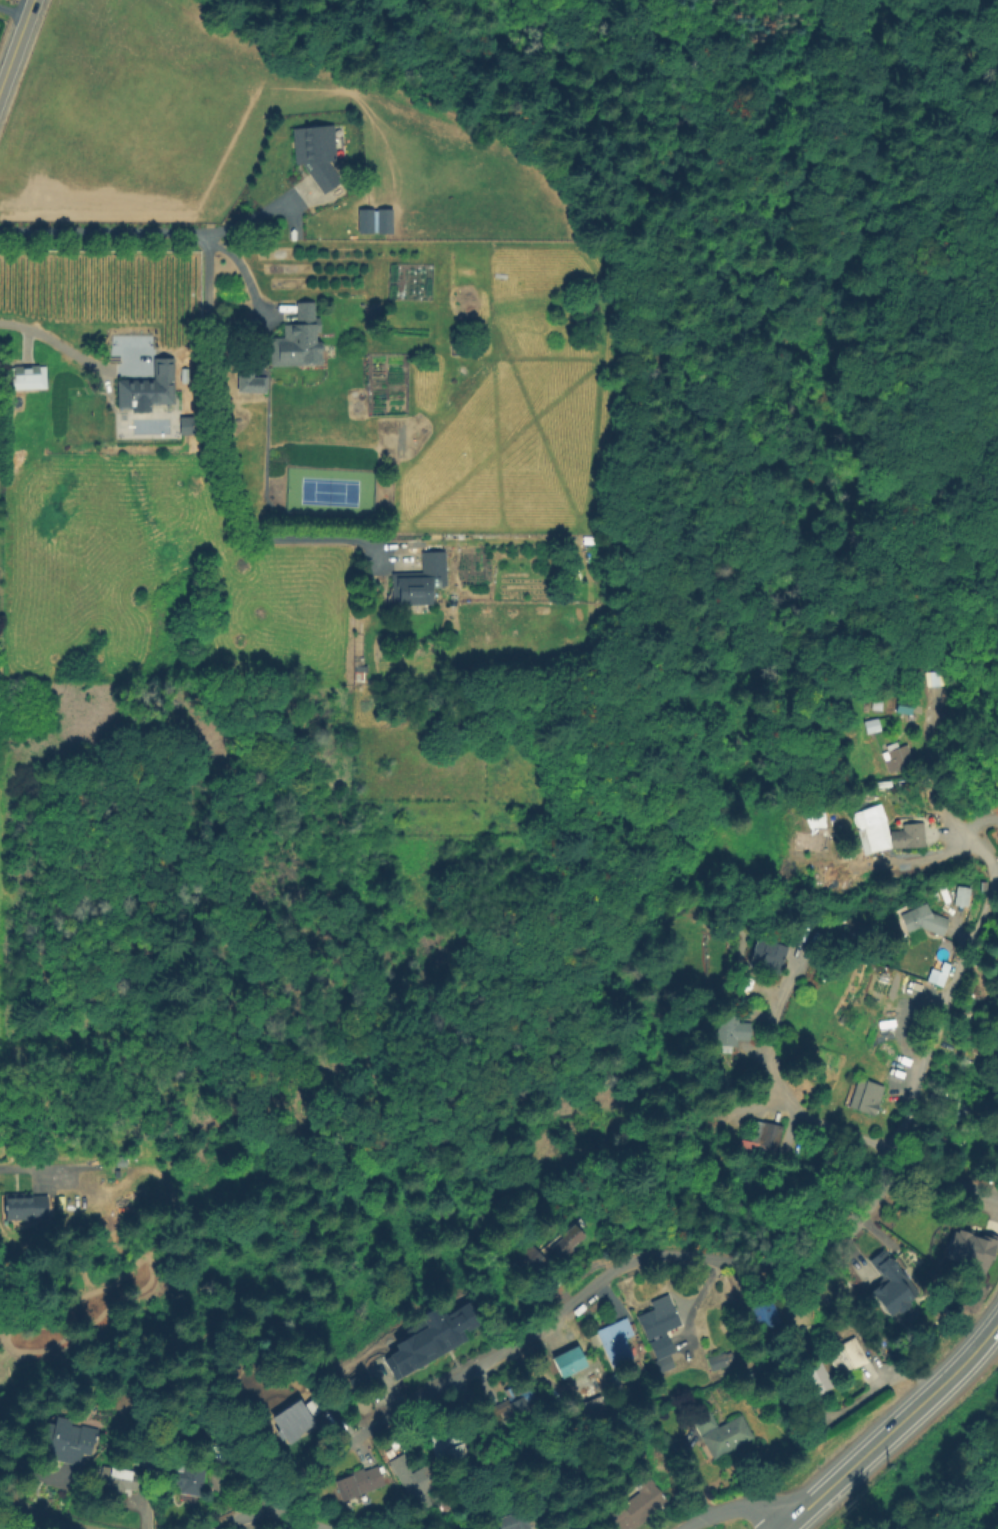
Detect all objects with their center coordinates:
road: (11, 13)
road: (14, 40)
building: (317, 154)
road: (256, 215)
building: (375, 221)
road: (100, 233)
road: (241, 271)
road: (50, 340)
building: (299, 340)
building: (459, 340)
building: (249, 376)
building: (27, 378)
building: (186, 379)
building: (148, 387)
building: (189, 428)
building: (394, 430)
road: (220, 450)
building: (419, 582)
building: (873, 726)
road: (926, 750)
building: (897, 758)
building: (913, 835)
building: (892, 841)
building: (958, 899)
building: (924, 920)
building: (768, 956)
road: (959, 966)
building: (995, 972)
building: (936, 974)
building: (732, 1030)
road: (772, 1085)
building: (862, 1099)
building: (762, 1132)
road: (52, 1173)
building: (24, 1207)
building: (570, 1232)
building: (967, 1249)
building: (533, 1259)
road: (617, 1267)
building: (887, 1284)
building: (760, 1313)
building: (660, 1331)
building: (432, 1334)
building: (615, 1340)
building: (846, 1357)
building: (570, 1359)
building: (719, 1362)
building: (815, 1381)
building: (511, 1405)
building: (291, 1427)
road: (895, 1430)
building: (721, 1433)
building: (64, 1442)
building: (445, 1442)
building: (143, 1458)
building: (414, 1477)
building: (189, 1478)
building: (120, 1481)
building: (359, 1483)
building: (637, 1504)
road: (264, 1507)
road: (727, 1509)
road: (35, 1517)
building: (511, 1522)
building: (562, 1526)
building: (569, 1526)

